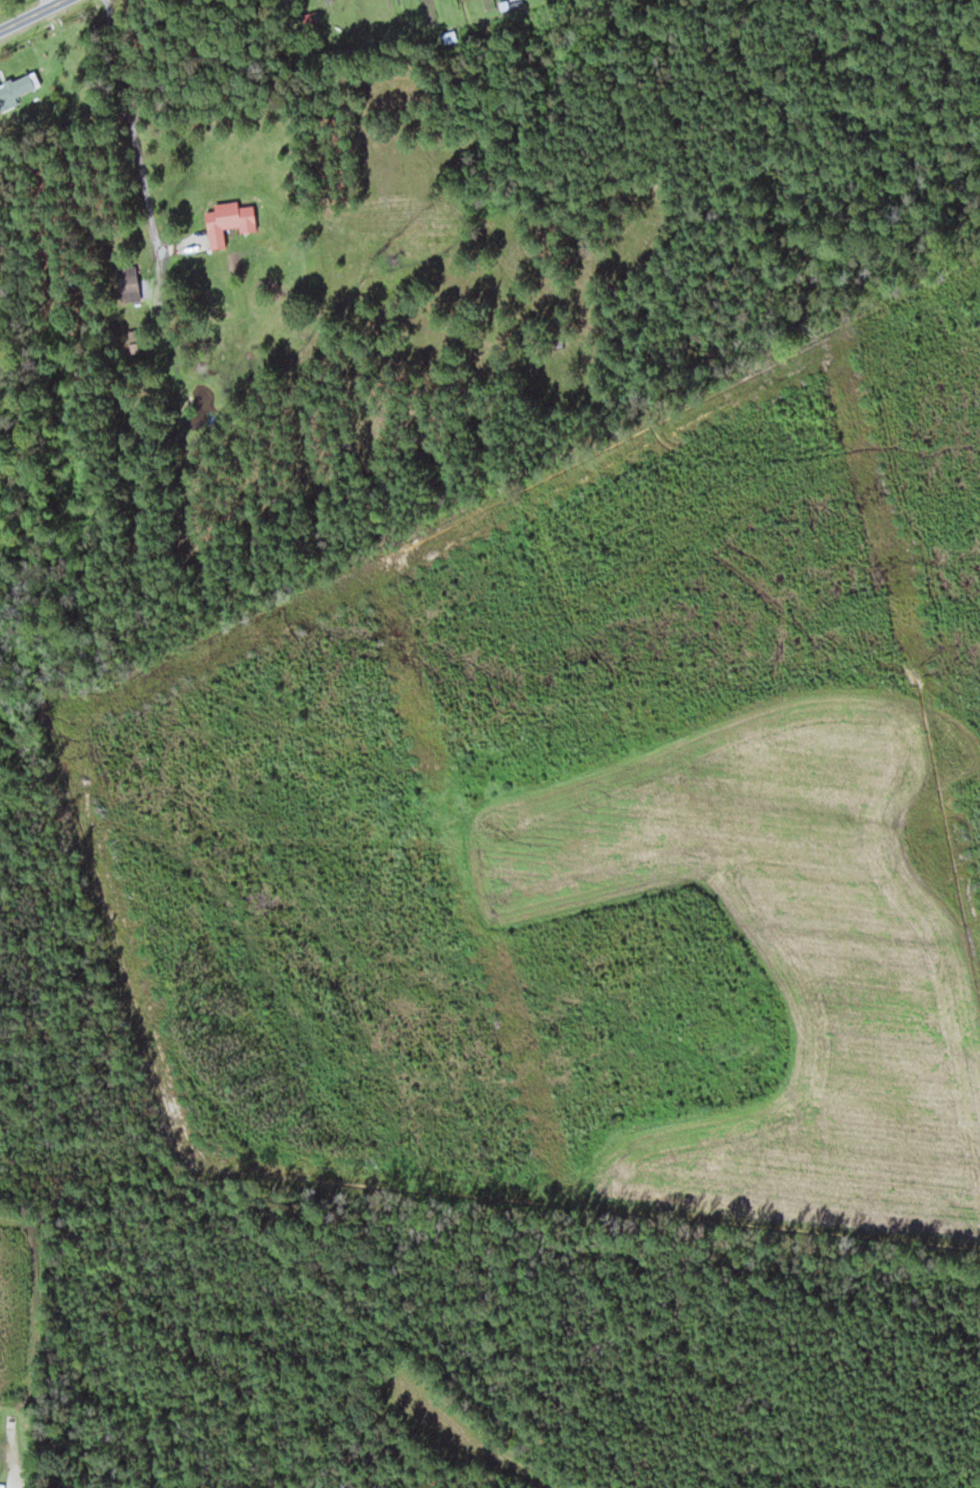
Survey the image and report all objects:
road: (36, 16)
building: (311, 18)
building: (17, 89)
road: (131, 125)
building: (229, 220)
building: (129, 283)

